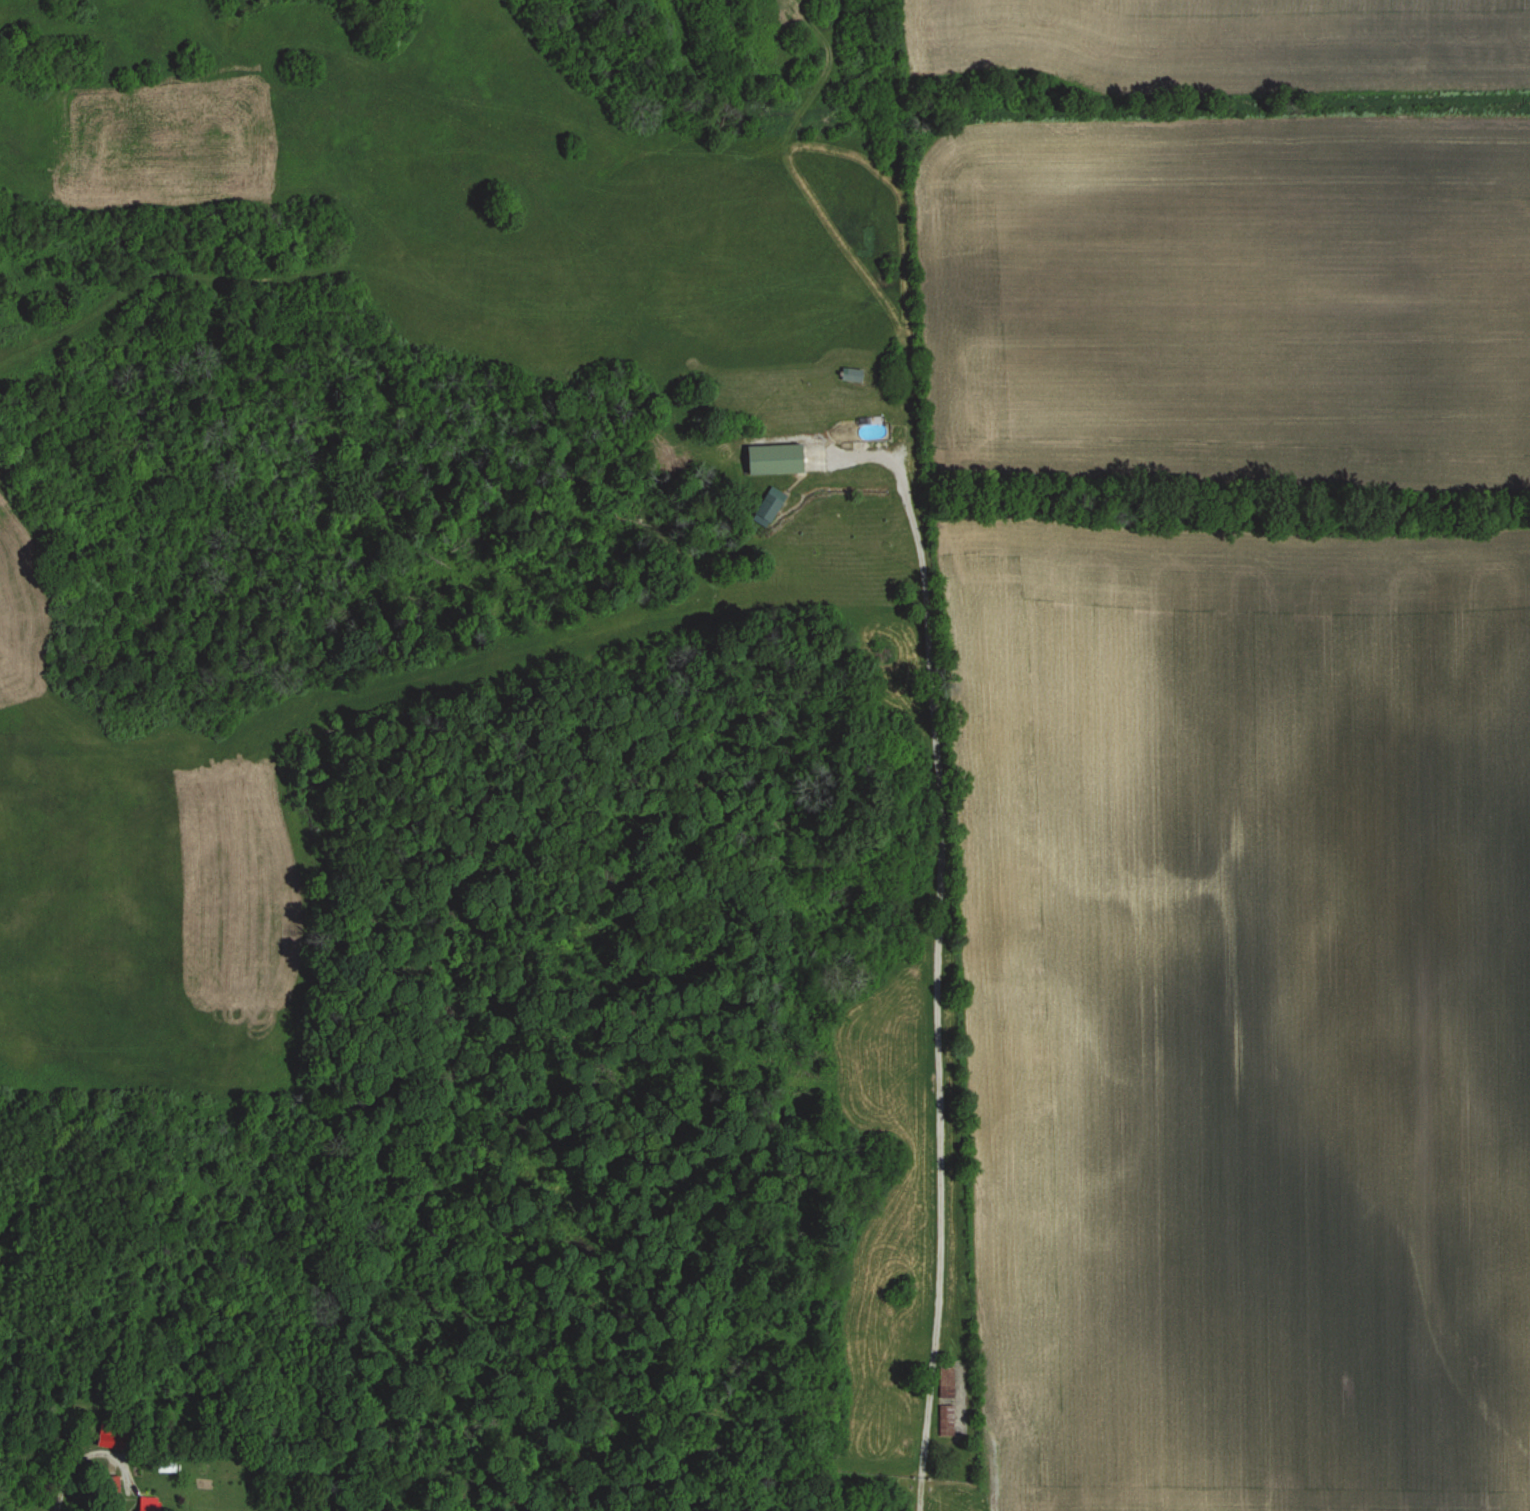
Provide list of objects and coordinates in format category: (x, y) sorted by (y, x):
building: (852, 375)
building: (776, 460)
building: (767, 509)
road: (945, 947)
building: (949, 1421)
building: (156, 1504)

